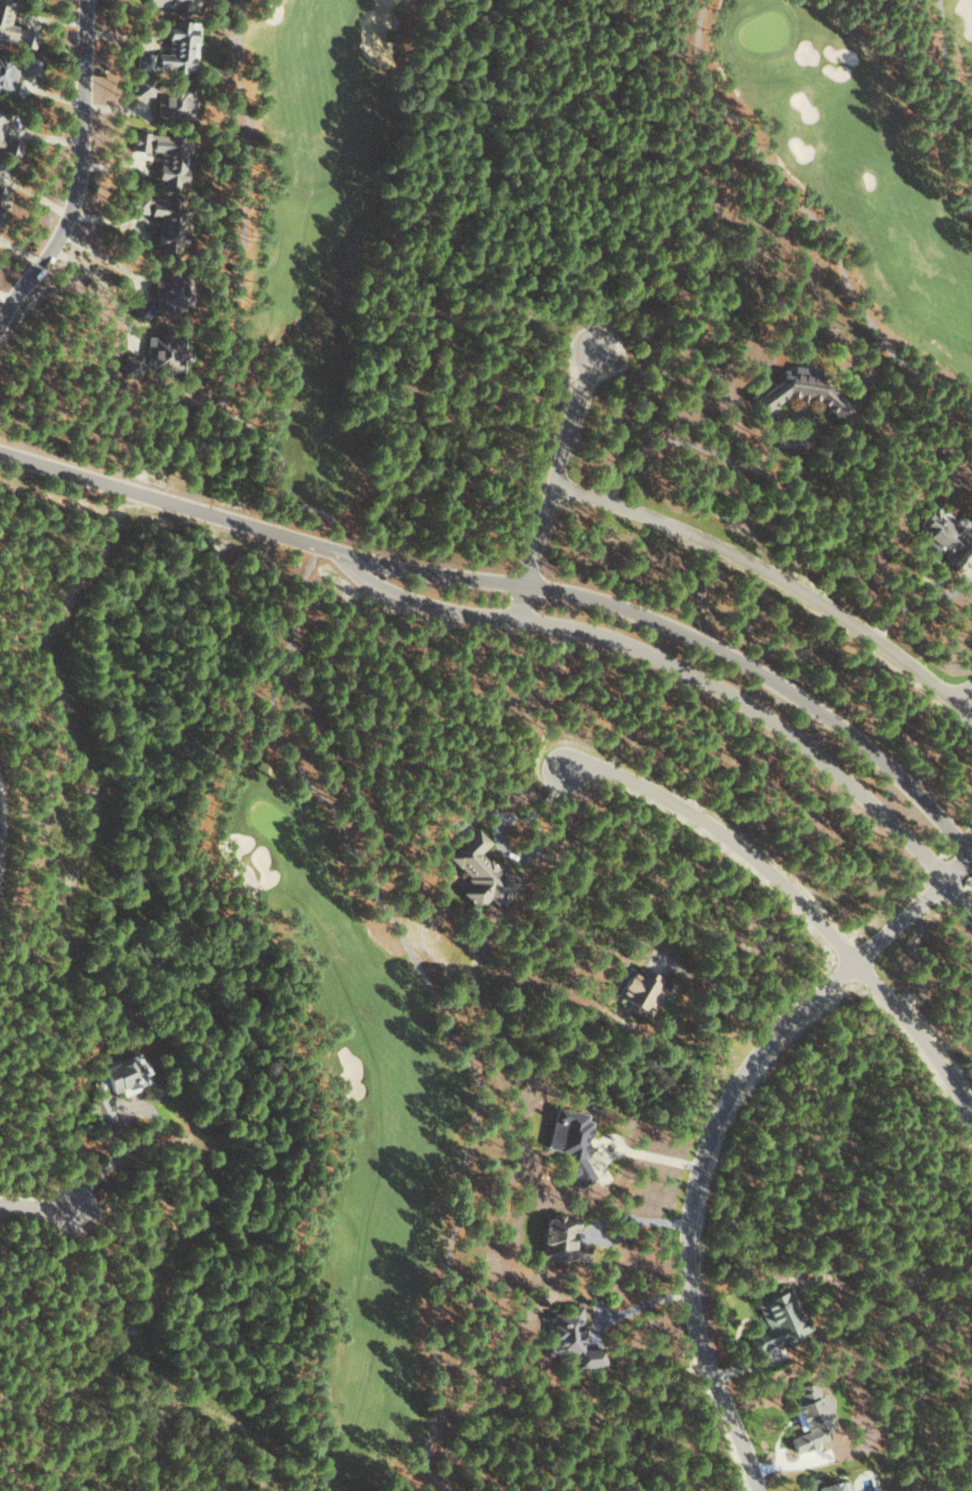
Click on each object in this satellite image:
building: (172, 3)
building: (2, 11)
building: (25, 37)
building: (172, 49)
building: (7, 70)
building: (143, 86)
building: (172, 102)
building: (1, 118)
building: (9, 143)
building: (164, 154)
park: (859, 157)
road: (77, 170)
building: (2, 194)
building: (0, 215)
building: (160, 219)
building: (162, 297)
building: (156, 357)
building: (799, 391)
road: (559, 482)
road: (179, 504)
building: (946, 536)
road: (775, 573)
road: (698, 638)
road: (693, 673)
park: (270, 750)
building: (478, 871)
road: (797, 893)
building: (640, 990)
building: (120, 1076)
building: (102, 1109)
road: (717, 1130)
building: (571, 1143)
road: (40, 1205)
road: (616, 1217)
building: (560, 1238)
building: (778, 1319)
building: (571, 1337)
building: (826, 1485)

